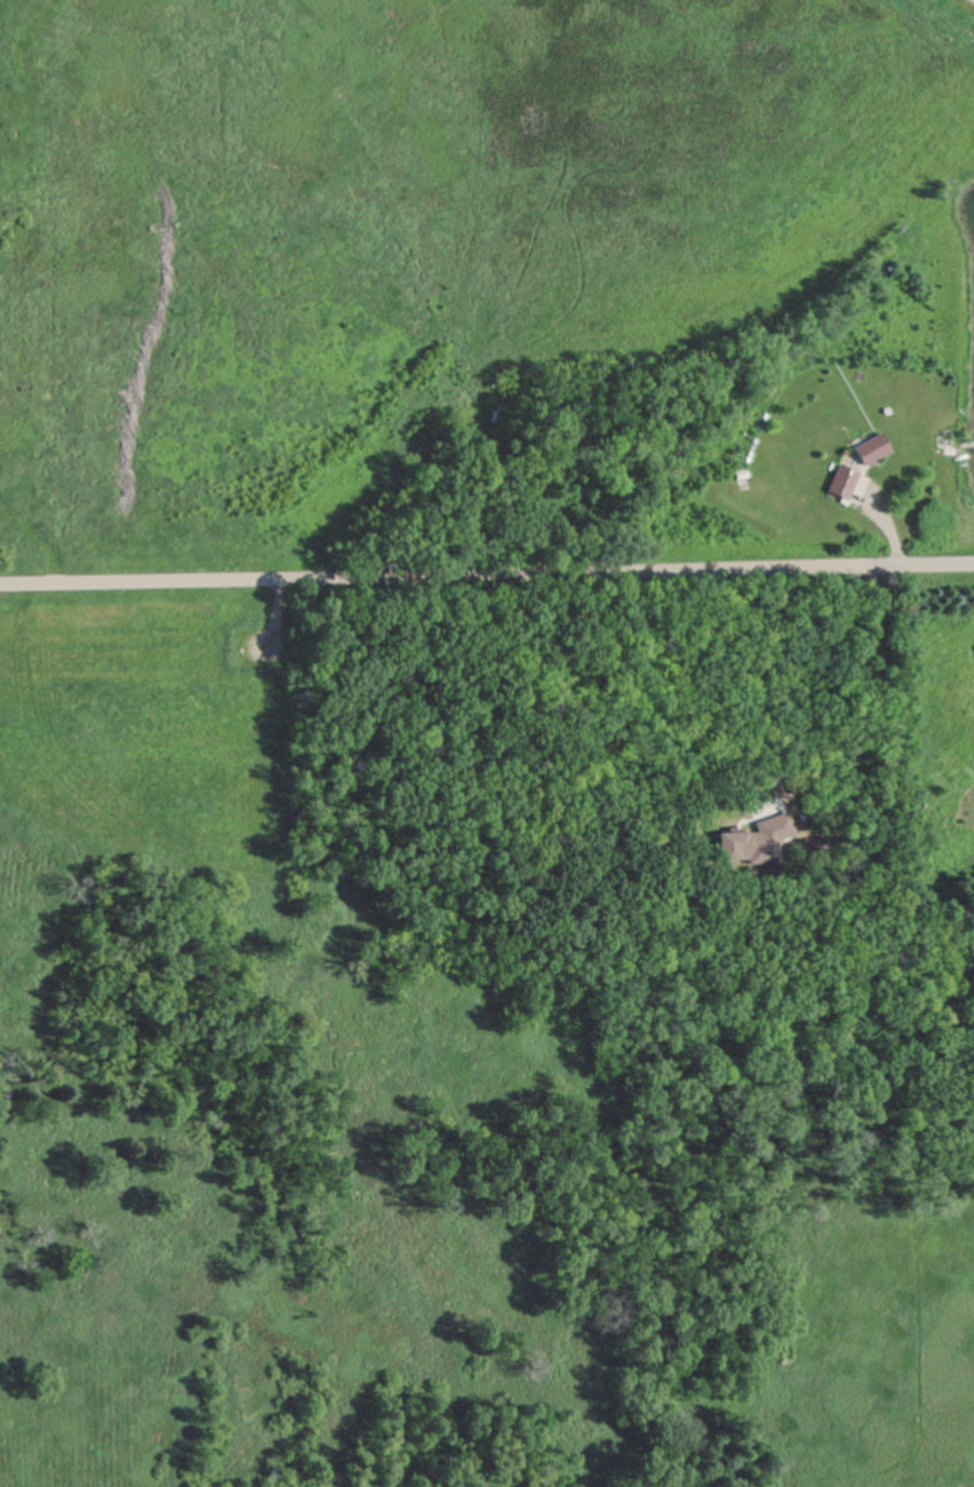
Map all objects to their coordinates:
building: (873, 448)
building: (843, 480)
road: (487, 573)
road: (862, 702)
building: (777, 854)

